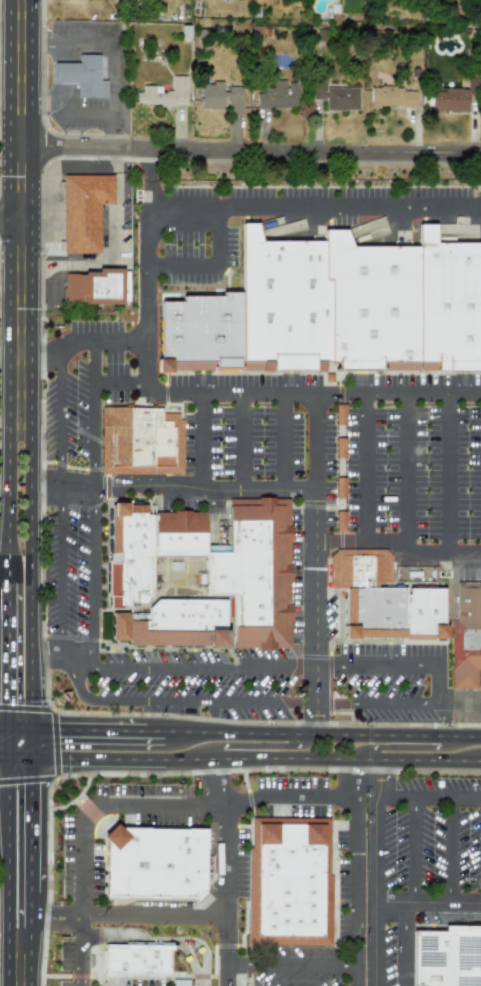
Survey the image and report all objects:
road: (4, 22)
road: (111, 54)
building: (81, 75)
building: (164, 93)
building: (278, 95)
building: (220, 96)
building: (335, 96)
building: (453, 96)
building: (392, 97)
road: (65, 112)
road: (245, 148)
road: (147, 175)
road: (313, 201)
building: (84, 210)
road: (15, 216)
road: (220, 235)
road: (184, 267)
building: (96, 287)
road: (147, 292)
road: (4, 296)
building: (359, 304)
road: (119, 333)
road: (43, 354)
road: (4, 356)
road: (8, 363)
road: (31, 364)
road: (198, 372)
road: (120, 382)
road: (56, 387)
parking lot: (82, 387)
road: (253, 392)
road: (335, 392)
road: (420, 392)
road: (171, 393)
road: (92, 395)
parking lot: (258, 428)
road: (41, 432)
building: (141, 440)
road: (198, 441)
road: (241, 441)
road: (311, 441)
road: (281, 442)
parking lot: (416, 458)
road: (360, 464)
road: (404, 469)
road: (447, 471)
road: (93, 479)
road: (57, 483)
road: (171, 489)
road: (4, 498)
road: (339, 507)
road: (336, 538)
road: (420, 547)
road: (105, 556)
road: (58, 570)
parking lot: (66, 570)
road: (90, 572)
building: (200, 577)
road: (313, 578)
road: (4, 596)
building: (384, 598)
building: (466, 635)
road: (4, 639)
road: (334, 642)
road: (185, 648)
road: (93, 653)
road: (49, 662)
parking lot: (222, 664)
road: (83, 666)
road: (192, 666)
road: (301, 666)
road: (384, 666)
road: (323, 667)
road: (68, 668)
road: (438, 681)
parking lot: (386, 682)
road: (315, 685)
road: (186, 702)
road: (394, 702)
road: (302, 703)
road: (332, 703)
road: (25, 706)
road: (316, 719)
road: (4, 727)
road: (19, 728)
road: (96, 730)
road: (239, 734)
road: (390, 736)
road: (472, 736)
road: (8, 742)
road: (31, 742)
road: (410, 746)
road: (272, 747)
road: (4, 755)
road: (19, 756)
road: (194, 757)
road: (419, 760)
road: (163, 773)
road: (357, 775)
road: (379, 777)
road: (213, 778)
road: (429, 796)
road: (168, 803)
road: (414, 850)
road: (451, 850)
road: (226, 857)
building: (153, 862)
road: (7, 871)
road: (30, 871)
road: (358, 875)
building: (291, 882)
road: (374, 889)
road: (3, 901)
road: (427, 904)
road: (128, 914)
road: (153, 938)
road: (218, 946)
road: (77, 949)
road: (229, 951)
road: (201, 955)
building: (445, 956)
building: (135, 958)
road: (294, 960)
road: (358, 973)

